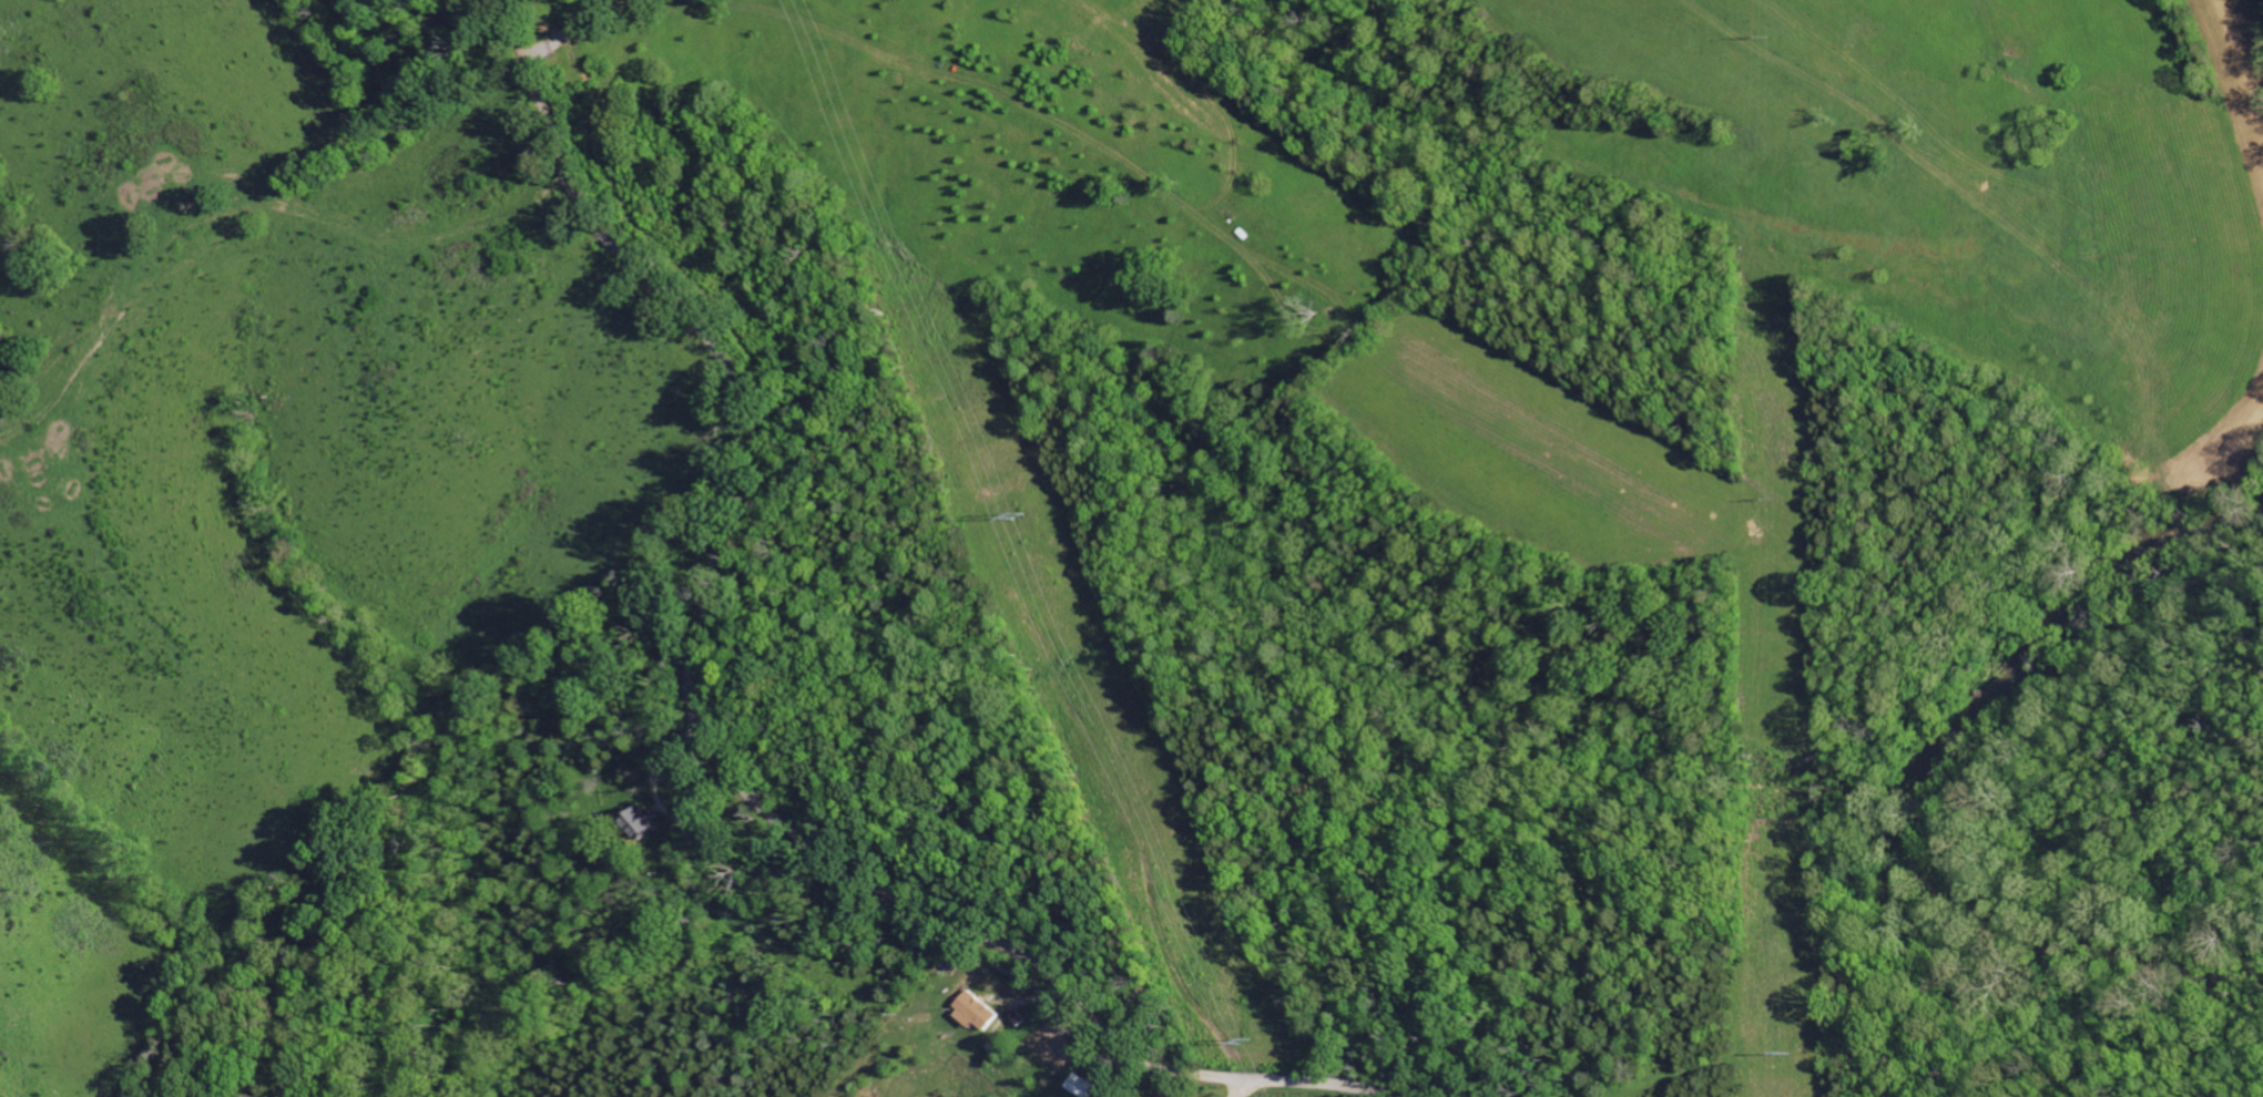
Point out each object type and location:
road: (701, 728)
building: (649, 822)
building: (979, 1012)
building: (1076, 1087)
road: (1247, 1088)

